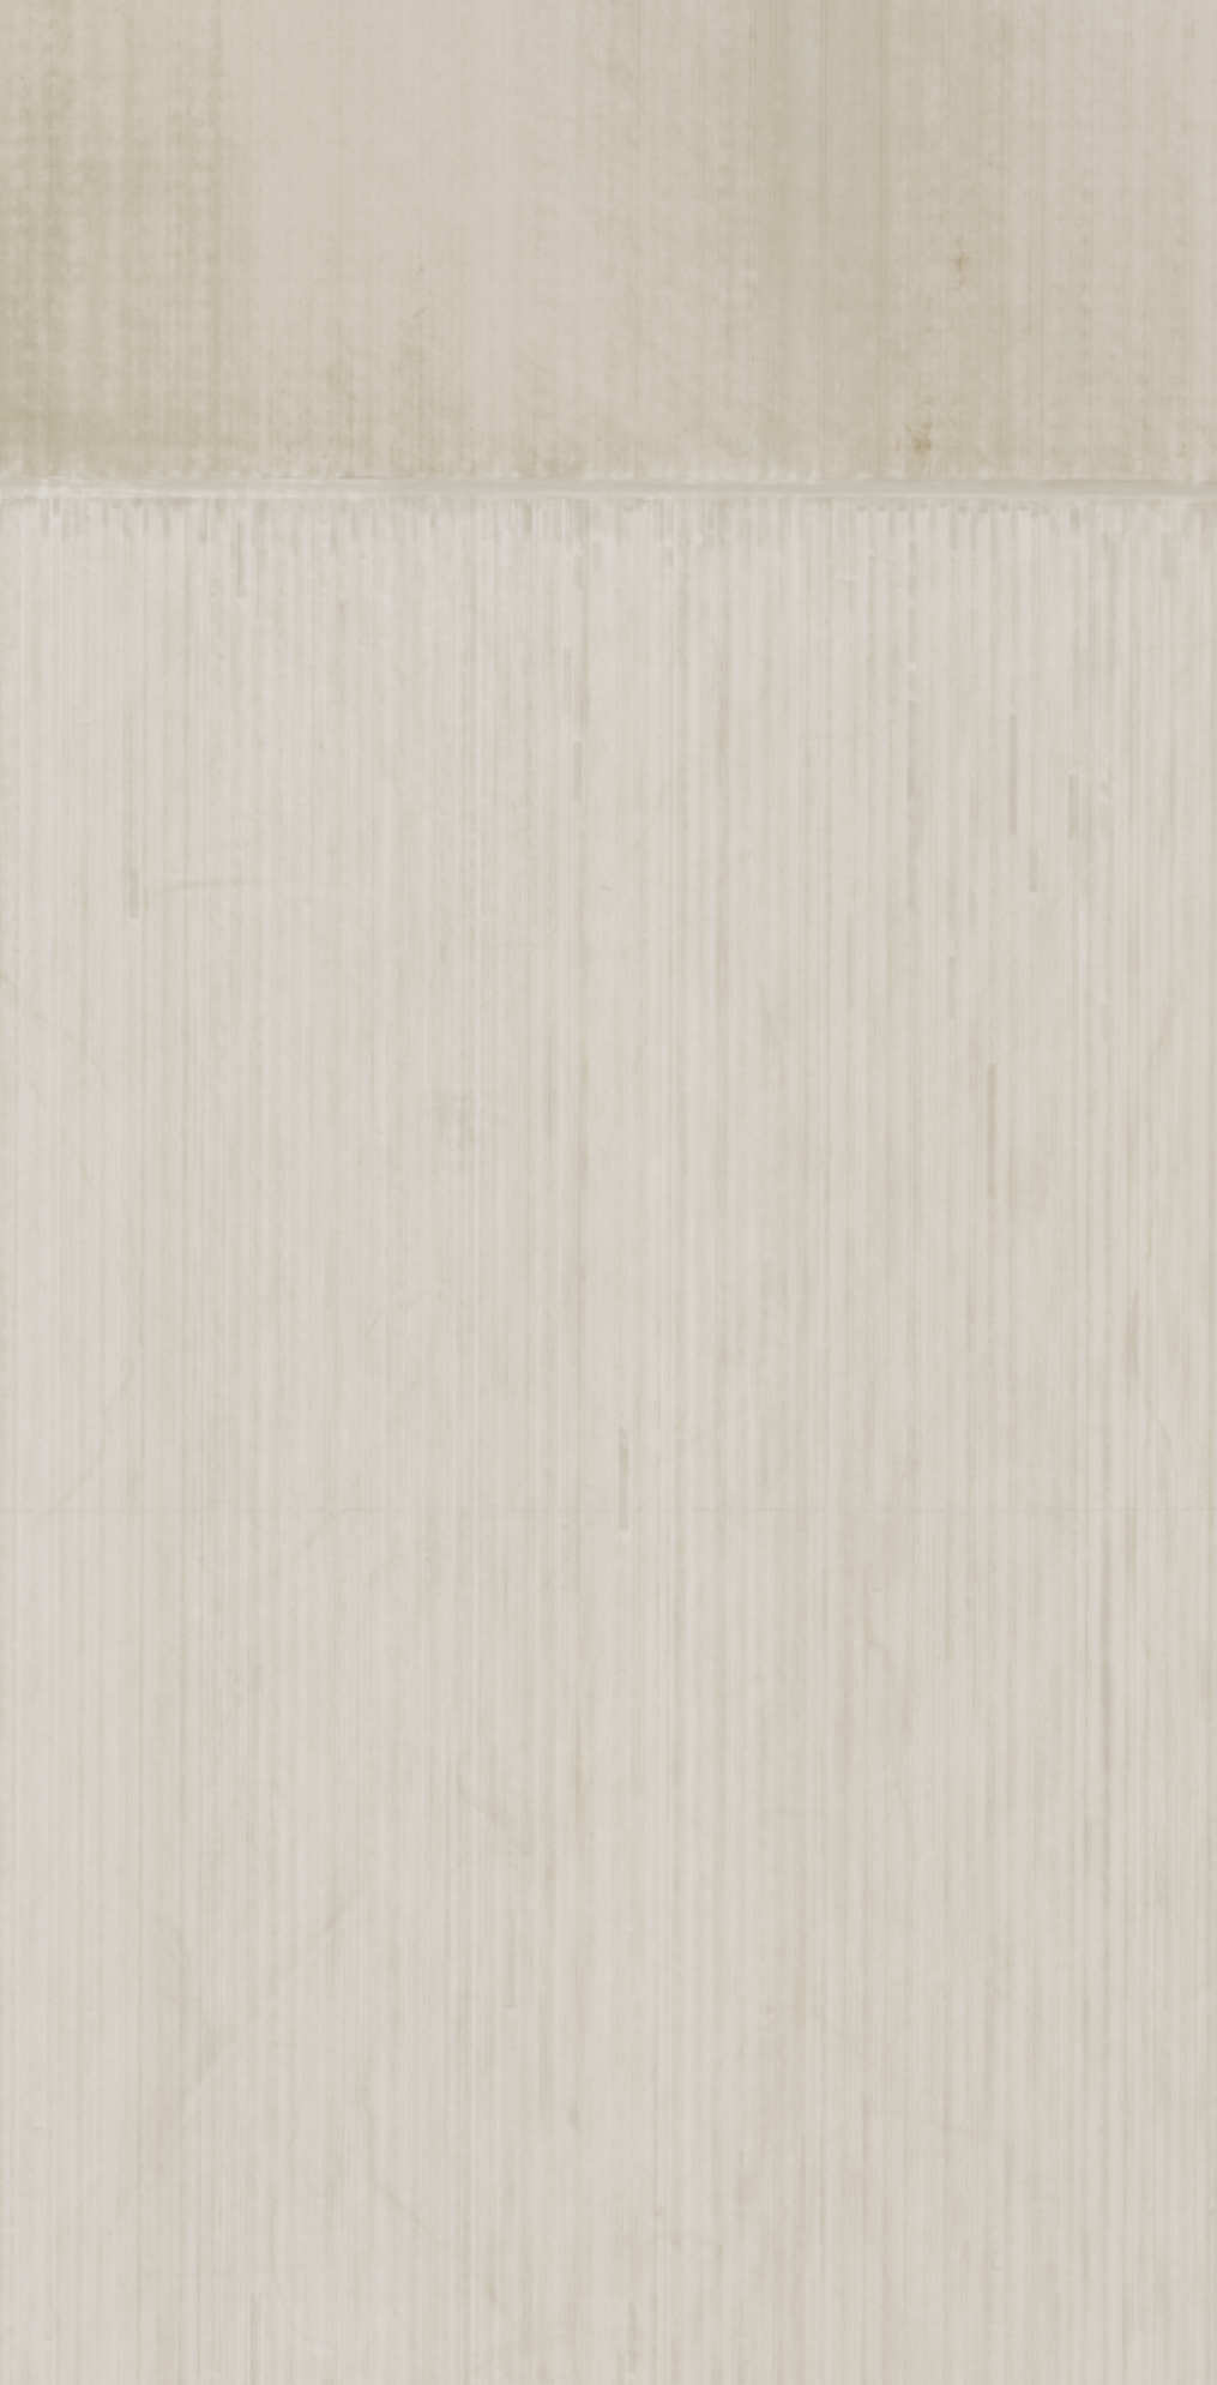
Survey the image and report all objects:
road: (608, 486)

